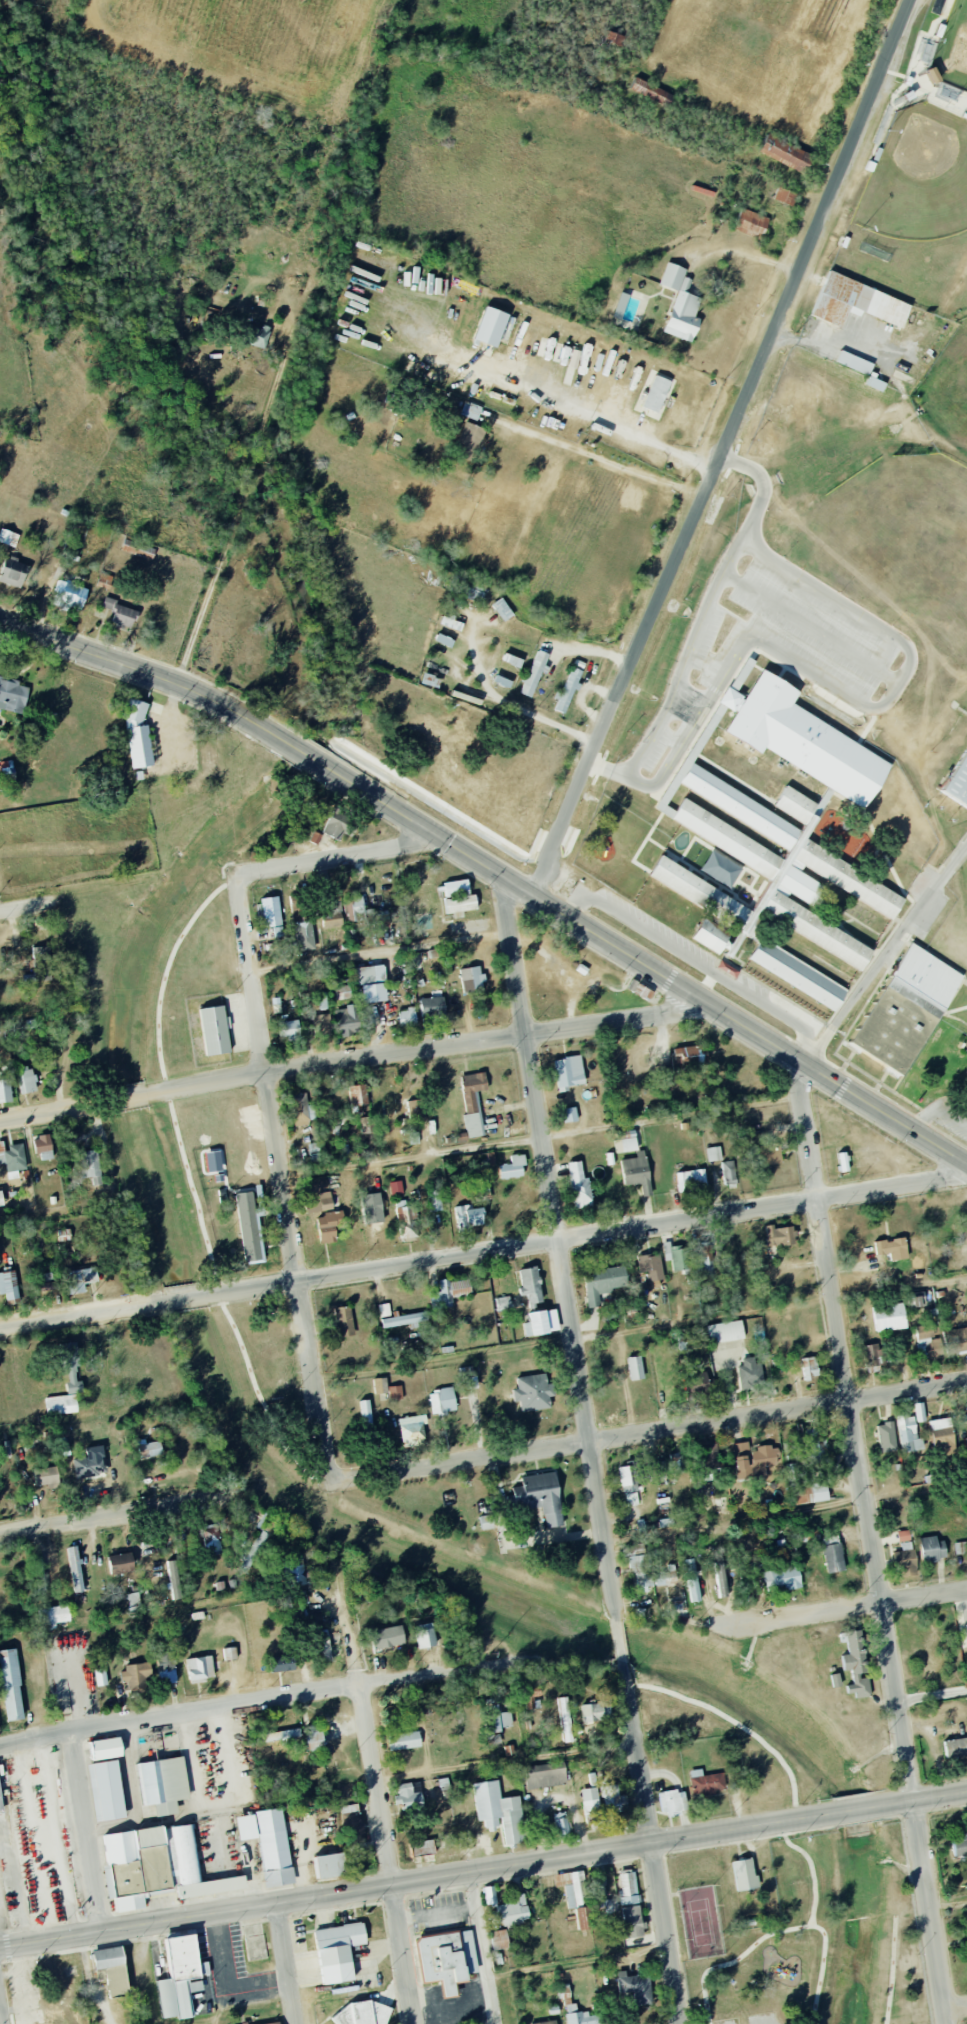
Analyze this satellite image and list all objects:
building: (932, 75)
building: (947, 91)
building: (651, 92)
building: (786, 153)
building: (785, 196)
building: (751, 223)
road: (745, 255)
building: (858, 302)
building: (681, 304)
building: (621, 305)
building: (490, 331)
building: (258, 336)
building: (558, 353)
building: (854, 363)
building: (875, 383)
road: (550, 394)
building: (656, 394)
building: (470, 410)
building: (468, 441)
road: (724, 449)
road: (250, 486)
road: (758, 489)
building: (6, 537)
building: (137, 551)
building: (13, 572)
building: (104, 581)
building: (70, 596)
building: (502, 609)
building: (119, 613)
building: (451, 623)
road: (808, 630)
building: (444, 640)
parking lot: (772, 644)
road: (905, 649)
building: (512, 660)
road: (138, 671)
building: (535, 673)
building: (502, 681)
building: (568, 689)
building: (12, 695)
building: (801, 734)
building: (138, 735)
road: (318, 764)
building: (5, 769)
building: (955, 774)
building: (336, 823)
building: (316, 837)
road: (334, 856)
building: (721, 869)
building: (770, 879)
building: (459, 897)
road: (29, 904)
building: (357, 909)
building: (271, 911)
building: (332, 913)
building: (304, 936)
road: (881, 952)
road: (381, 954)
road: (692, 961)
building: (42, 963)
building: (472, 979)
road: (666, 980)
building: (372, 983)
building: (639, 985)
building: (322, 1000)
road: (65, 1004)
building: (902, 1004)
building: (432, 1008)
building: (407, 1017)
building: (350, 1019)
building: (215, 1030)
building: (288, 1030)
road: (427, 1051)
building: (690, 1058)
building: (965, 1066)
building: (568, 1075)
building: (27, 1080)
building: (473, 1089)
building: (5, 1090)
building: (357, 1097)
road: (122, 1100)
building: (301, 1110)
road: (48, 1111)
road: (937, 1113)
building: (570, 1114)
building: (414, 1138)
road: (542, 1139)
building: (43, 1147)
road: (185, 1153)
building: (714, 1154)
building: (766, 1155)
building: (12, 1157)
building: (843, 1161)
building: (87, 1165)
building: (513, 1167)
building: (637, 1172)
building: (729, 1172)
road: (284, 1177)
building: (691, 1180)
building: (396, 1187)
building: (581, 1187)
building: (1, 1199)
building: (435, 1200)
building: (320, 1203)
road: (59, 1213)
building: (468, 1217)
building: (405, 1219)
building: (248, 1226)
building: (329, 1226)
road: (586, 1234)
building: (780, 1237)
building: (892, 1248)
road: (560, 1251)
building: (667, 1251)
building: (679, 1258)
building: (704, 1258)
building: (651, 1267)
building: (79, 1280)
building: (45, 1282)
building: (603, 1283)
building: (531, 1284)
building: (8, 1285)
building: (449, 1292)
road: (184, 1299)
building: (384, 1310)
road: (82, 1315)
building: (889, 1317)
building: (405, 1319)
building: (345, 1321)
building: (542, 1322)
road: (642, 1330)
building: (725, 1332)
building: (956, 1340)
building: (929, 1341)
building: (872, 1355)
building: (73, 1367)
building: (809, 1367)
building: (635, 1368)
building: (750, 1373)
building: (469, 1378)
building: (696, 1383)
building: (380, 1386)
building: (395, 1392)
building: (533, 1393)
park: (246, 1395)
building: (442, 1401)
building: (61, 1404)
building: (365, 1411)
building: (940, 1428)
building: (412, 1429)
building: (911, 1430)
road: (649, 1433)
building: (886, 1437)
building: (965, 1445)
building: (816, 1446)
building: (149, 1449)
building: (713, 1456)
building: (753, 1460)
building: (91, 1463)
building: (676, 1465)
building: (658, 1470)
building: (792, 1472)
building: (46, 1476)
building: (629, 1486)
building: (810, 1493)
building: (540, 1497)
road: (786, 1512)
road: (102, 1520)
building: (486, 1522)
building: (666, 1522)
building: (211, 1536)
road: (874, 1545)
building: (960, 1548)
building: (932, 1549)
building: (833, 1554)
building: (905, 1555)
building: (121, 1563)
building: (75, 1569)
building: (300, 1572)
building: (40, 1574)
building: (642, 1574)
building: (665, 1576)
building: (174, 1579)
building: (721, 1579)
building: (782, 1579)
building: (692, 1580)
building: (134, 1601)
road: (843, 1609)
building: (53, 1616)
building: (966, 1626)
building: (425, 1636)
building: (387, 1637)
road: (620, 1643)
building: (323, 1645)
building: (229, 1654)
road: (355, 1661)
building: (283, 1664)
building: (856, 1665)
building: (166, 1667)
building: (200, 1668)
building: (135, 1675)
building: (100, 1677)
building: (835, 1681)
building: (10, 1686)
road: (933, 1698)
road: (276, 1701)
building: (596, 1712)
building: (497, 1717)
building: (565, 1720)
building: (279, 1735)
building: (314, 1738)
building: (404, 1741)
building: (956, 1748)
building: (106, 1749)
road: (504, 1761)
building: (545, 1775)
building: (592, 1779)
building: (707, 1783)
building: (163, 1785)
building: (106, 1791)
building: (408, 1797)
building: (613, 1800)
road: (921, 1801)
building: (590, 1802)
building: (1, 1803)
building: (672, 1803)
building: (499, 1812)
road: (856, 1812)
building: (561, 1825)
building: (352, 1828)
road: (84, 1834)
road: (651, 1843)
building: (268, 1844)
building: (422, 1848)
road: (386, 1856)
building: (330, 1866)
building: (157, 1867)
building: (745, 1875)
road: (417, 1882)
building: (571, 1886)
building: (628, 1887)
building: (490, 1896)
building: (605, 1906)
road: (948, 1907)
building: (510, 1912)
road: (436, 1914)
building: (582, 1918)
building: (633, 1921)
park: (799, 1926)
building: (499, 1939)
building: (333, 1943)
road: (482, 1949)
building: (108, 1957)
building: (447, 1959)
road: (285, 1965)
building: (181, 1976)
building: (117, 1981)
building: (635, 1987)
road: (956, 2010)
building: (363, 2014)
building: (579, 2016)
road: (0, 2021)
building: (271, 2022)
building: (544, 2022)

